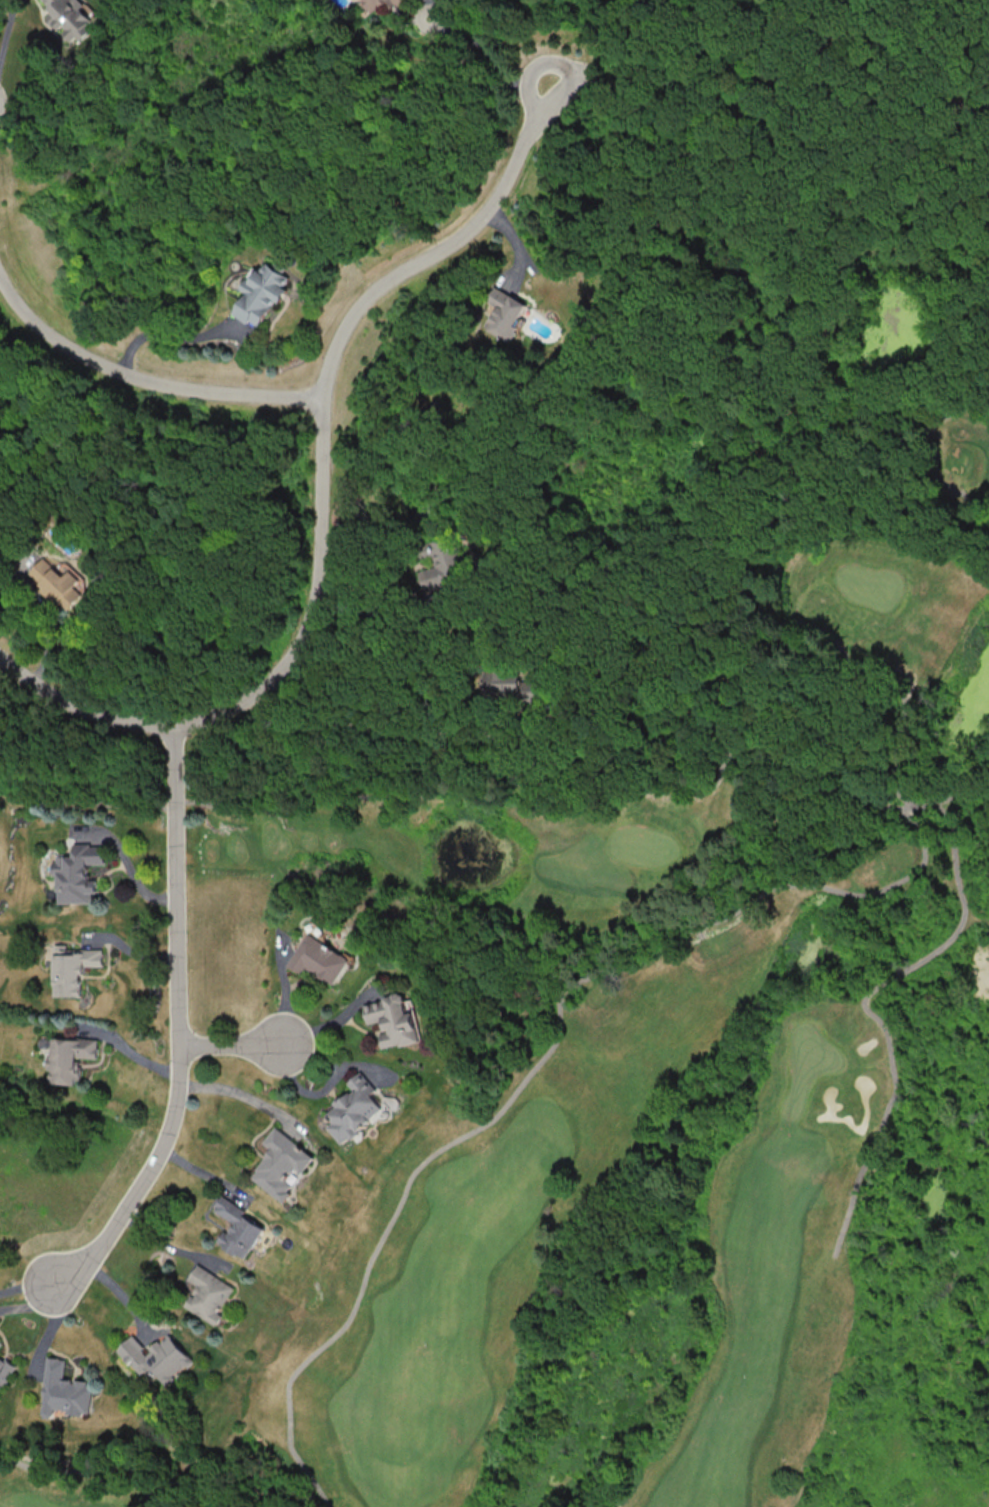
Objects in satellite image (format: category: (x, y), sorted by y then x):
building: (70, 17)
road: (9, 29)
road: (487, 51)
building: (261, 292)
building: (504, 312)
road: (162, 333)
road: (143, 382)
road: (320, 494)
road: (761, 534)
building: (441, 566)
building: (57, 583)
building: (505, 682)
road: (893, 719)
road: (392, 730)
road: (343, 792)
park: (66, 804)
building: (84, 869)
building: (316, 961)
building: (80, 966)
building: (394, 1022)
road: (177, 1025)
road: (886, 1029)
road: (551, 1040)
road: (228, 1047)
road: (129, 1050)
park: (661, 1050)
building: (70, 1059)
building: (352, 1110)
building: (283, 1164)
building: (238, 1227)
building: (208, 1294)
building: (1, 1342)
building: (155, 1356)
building: (6, 1369)
building: (68, 1388)
road: (109, 1464)

